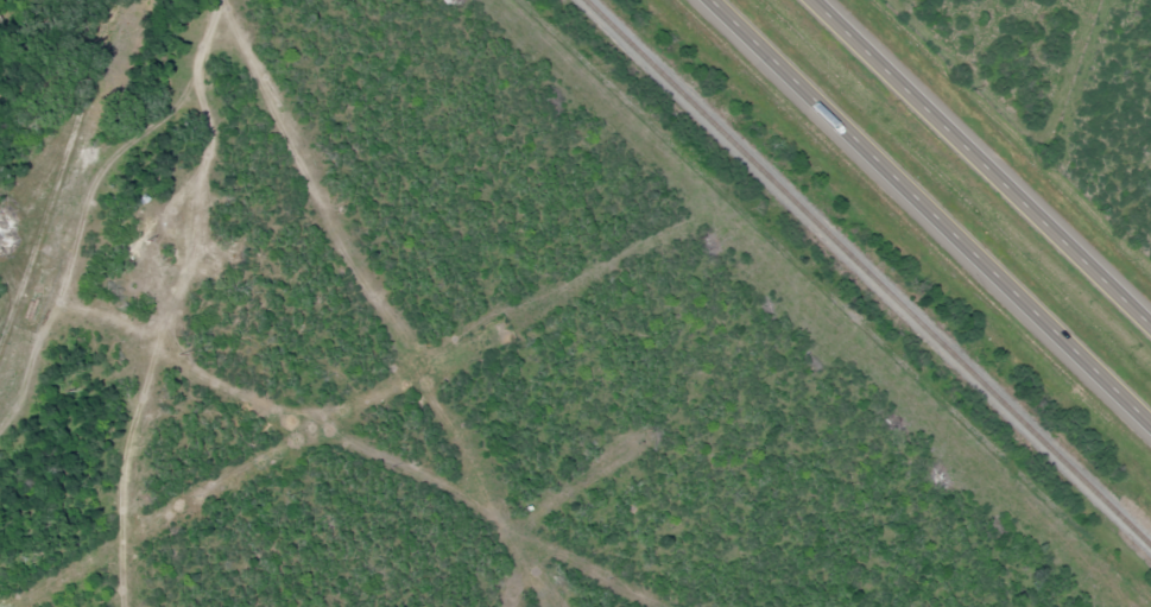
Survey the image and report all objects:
road: (980, 163)
road: (929, 214)
railway: (866, 274)

